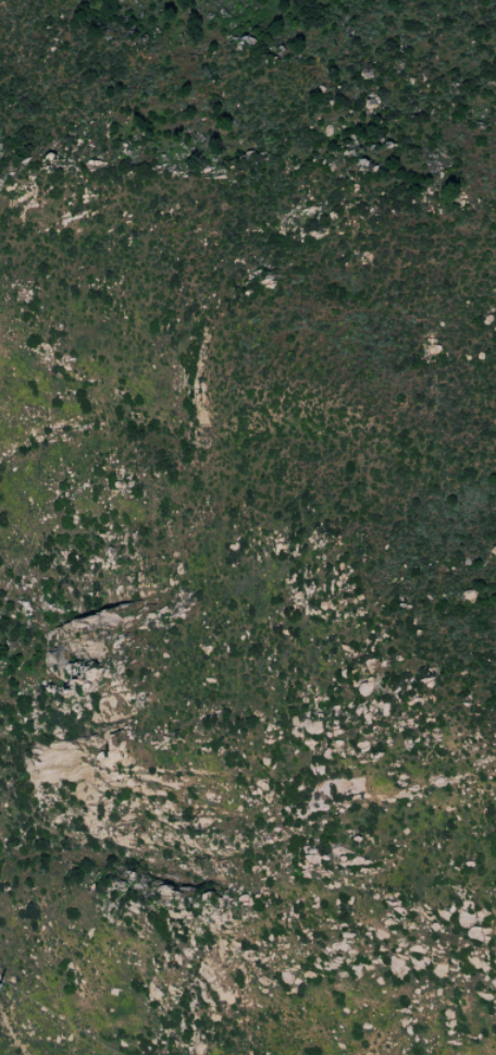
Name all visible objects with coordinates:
park: (248, 527)

